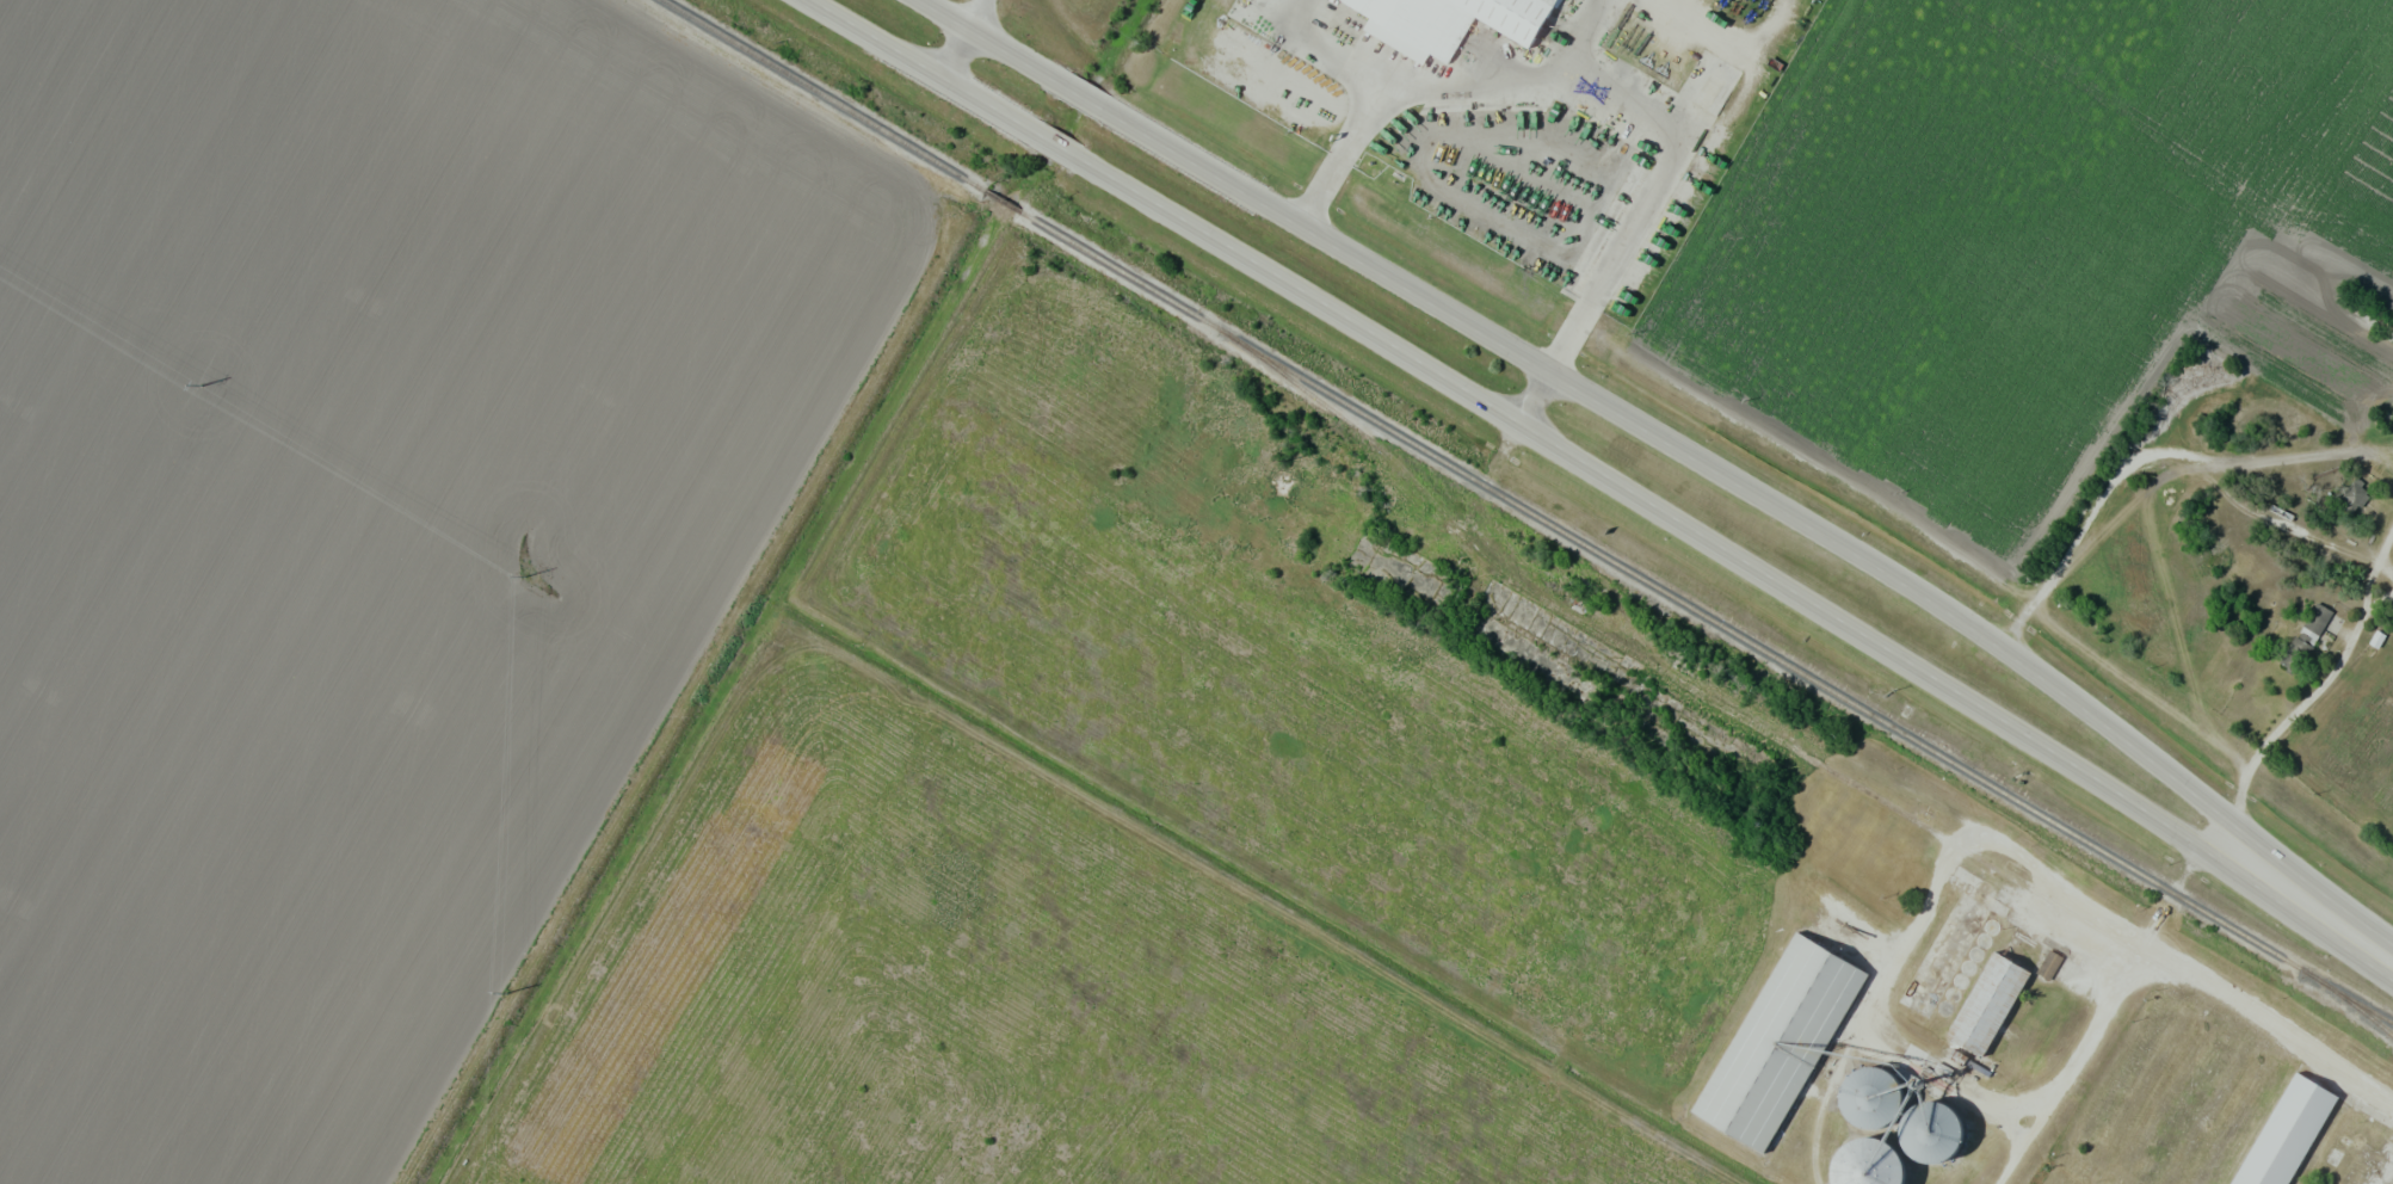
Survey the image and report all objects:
road: (979, 12)
building: (1435, 21)
road: (1321, 47)
road: (961, 53)
road: (1506, 82)
road: (1339, 149)
road: (1651, 192)
power tower: (201, 387)
road: (1532, 391)
road: (1612, 400)
road: (1529, 427)
building: (2355, 492)
railway: (1528, 510)
power tower: (523, 576)
building: (2305, 636)
road: (2319, 911)
road: (1351, 955)
building: (2048, 963)
power tower: (502, 993)
road: (2113, 1000)
building: (1986, 1011)
building: (1781, 1047)
building: (2151, 1105)
building: (1874, 1106)
building: (2220, 1122)
building: (2289, 1137)
building: (1935, 1142)
building: (2363, 1149)
building: (1876, 1168)

